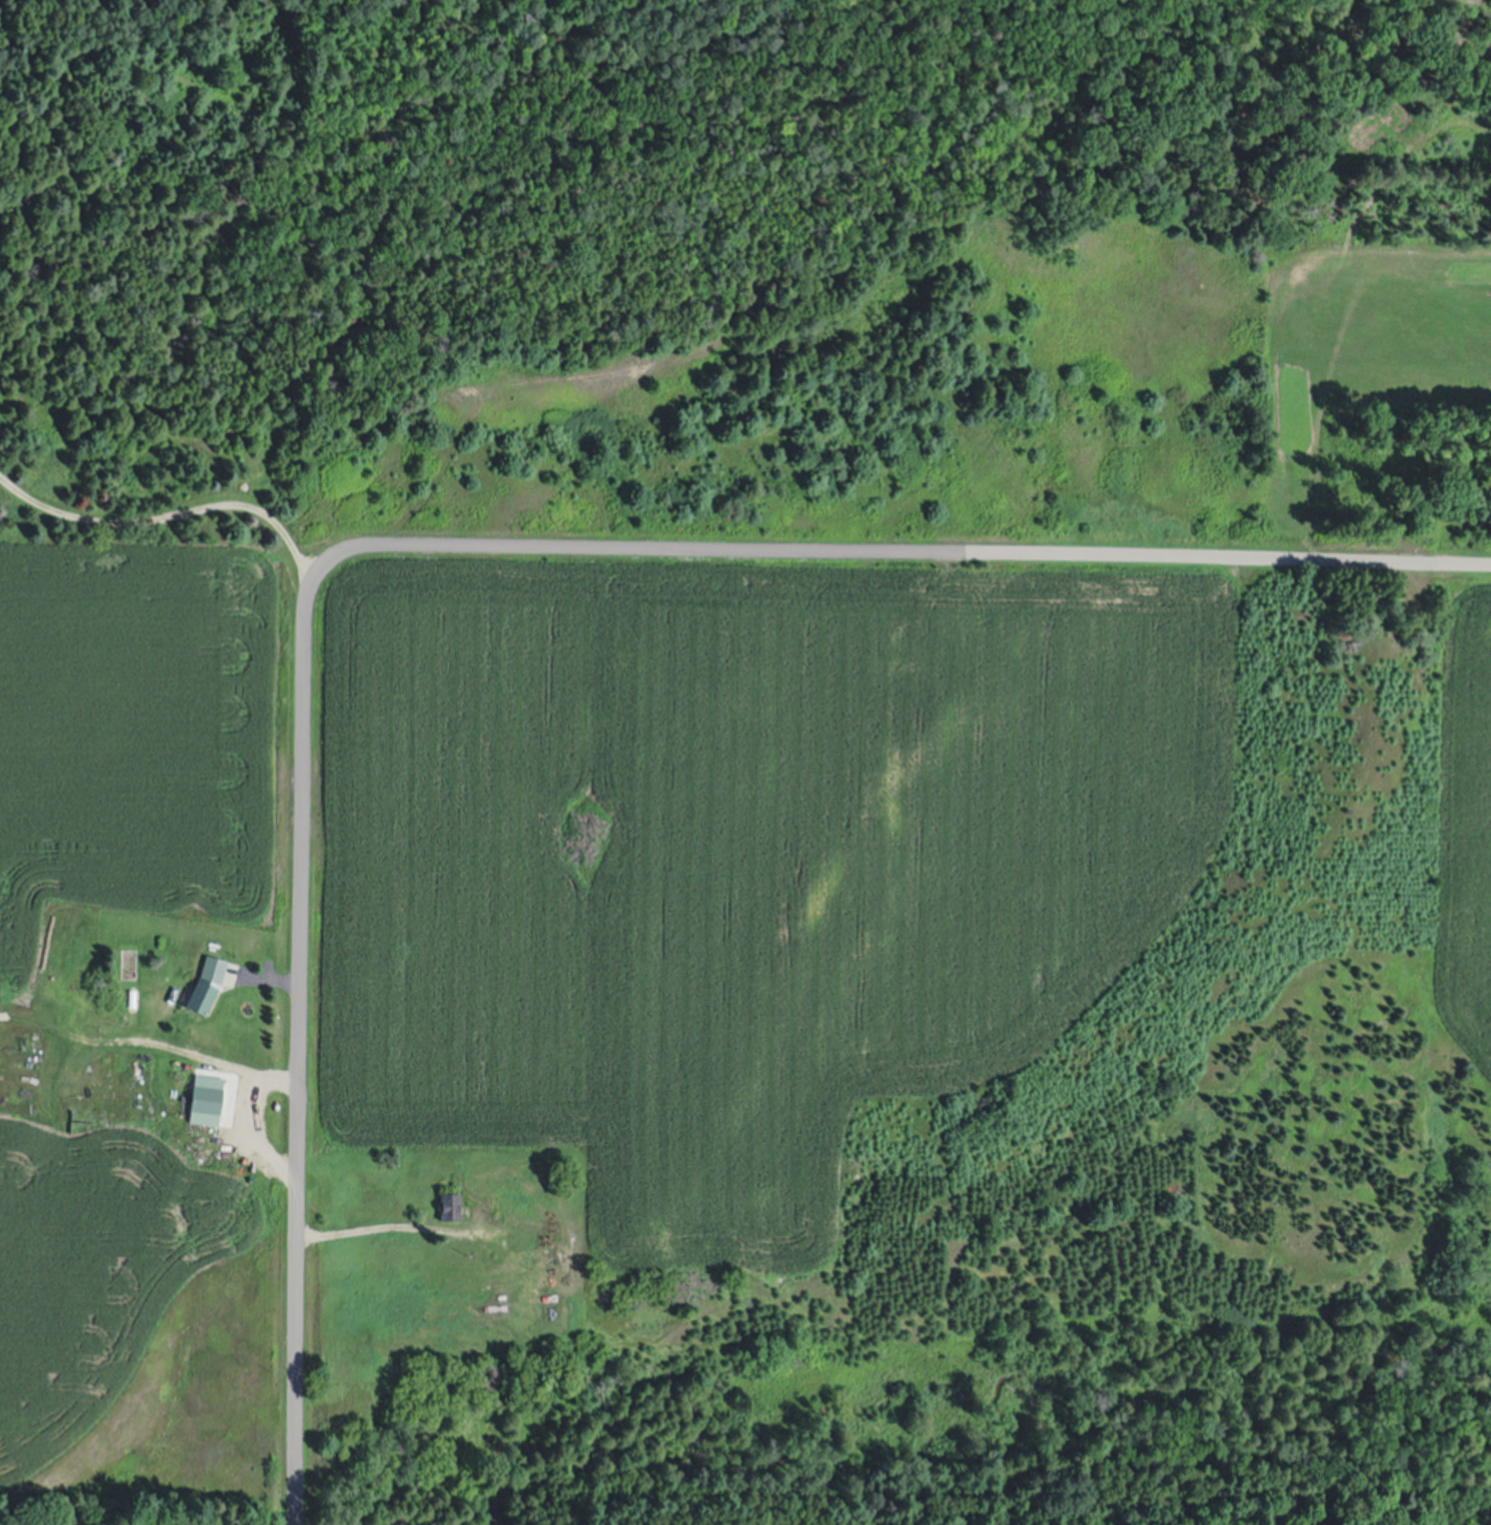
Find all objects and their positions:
road: (165, 517)
road: (894, 551)
building: (207, 982)
building: (169, 1000)
road: (298, 1049)
building: (206, 1096)
building: (490, 1174)
building: (452, 1204)
building: (525, 1240)
building: (547, 1288)
building: (473, 1336)

